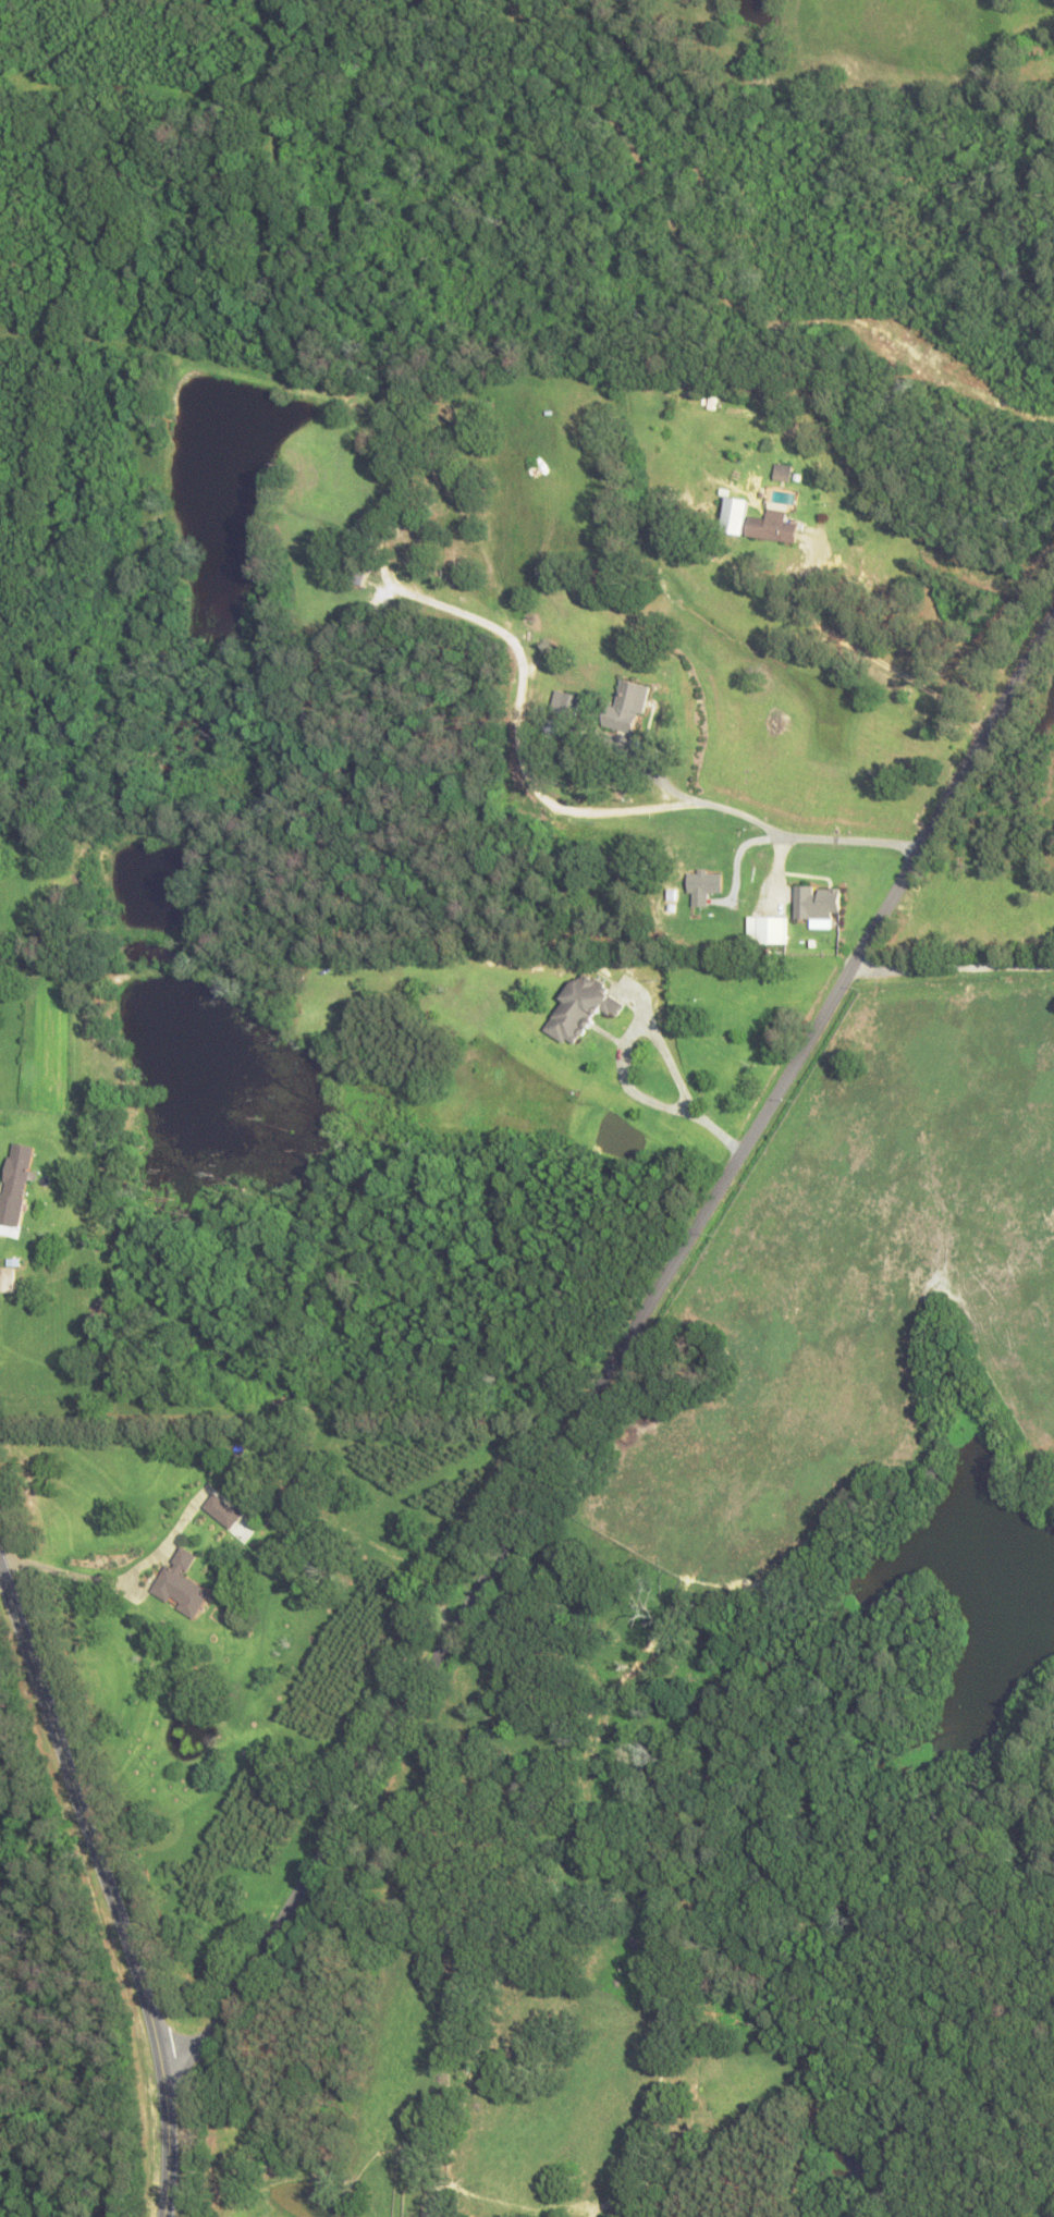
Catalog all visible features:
building: (783, 475)
building: (773, 529)
building: (566, 705)
building: (628, 709)
building: (561, 733)
road: (580, 812)
building: (703, 890)
building: (818, 905)
building: (768, 932)
road: (956, 969)
building: (583, 1013)
road: (655, 1039)
building: (17, 1187)
building: (8, 1283)
road: (617, 1372)
building: (181, 1595)
road: (109, 1890)

